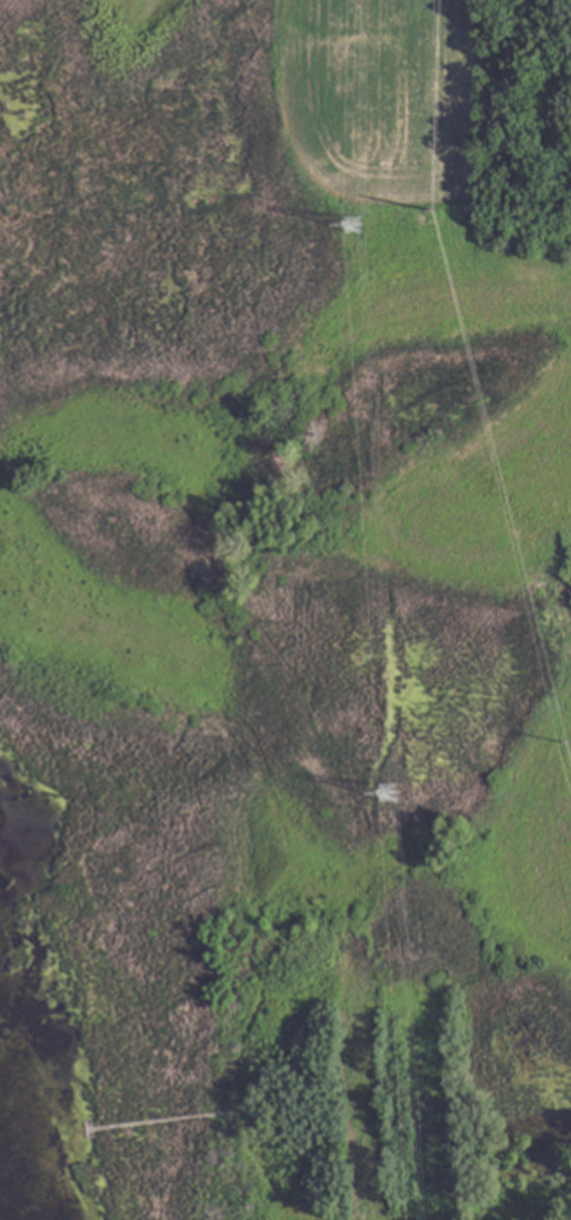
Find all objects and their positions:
crop: (375, 93)
power tower: (350, 224)
crop: (502, 712)
power tower: (385, 796)
pier: (156, 1122)

